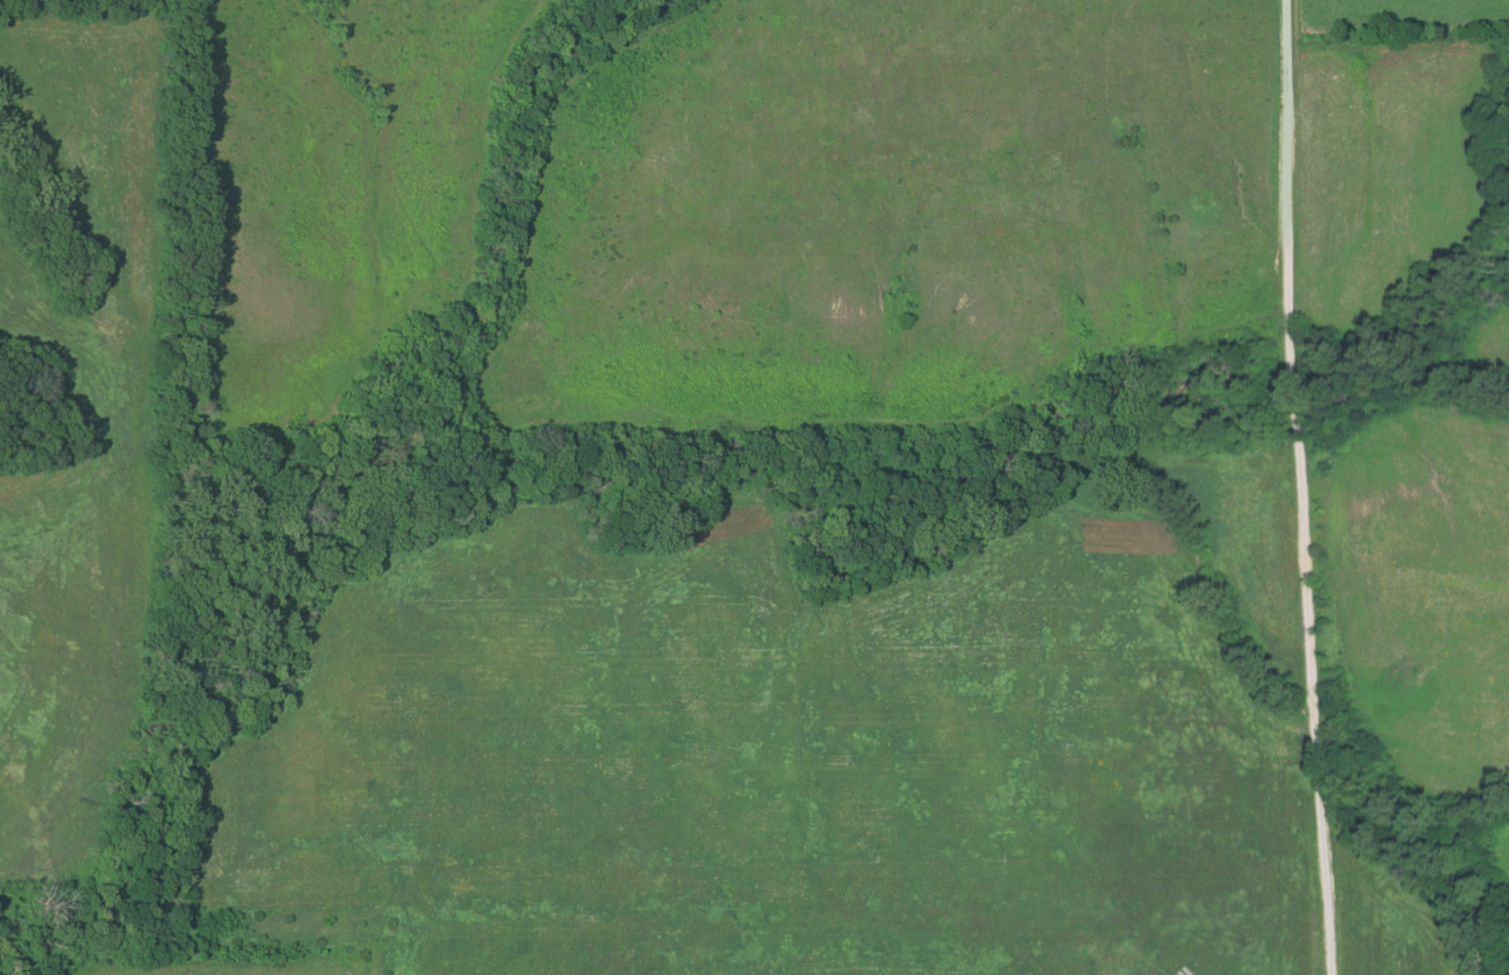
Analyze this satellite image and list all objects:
road: (1302, 487)

